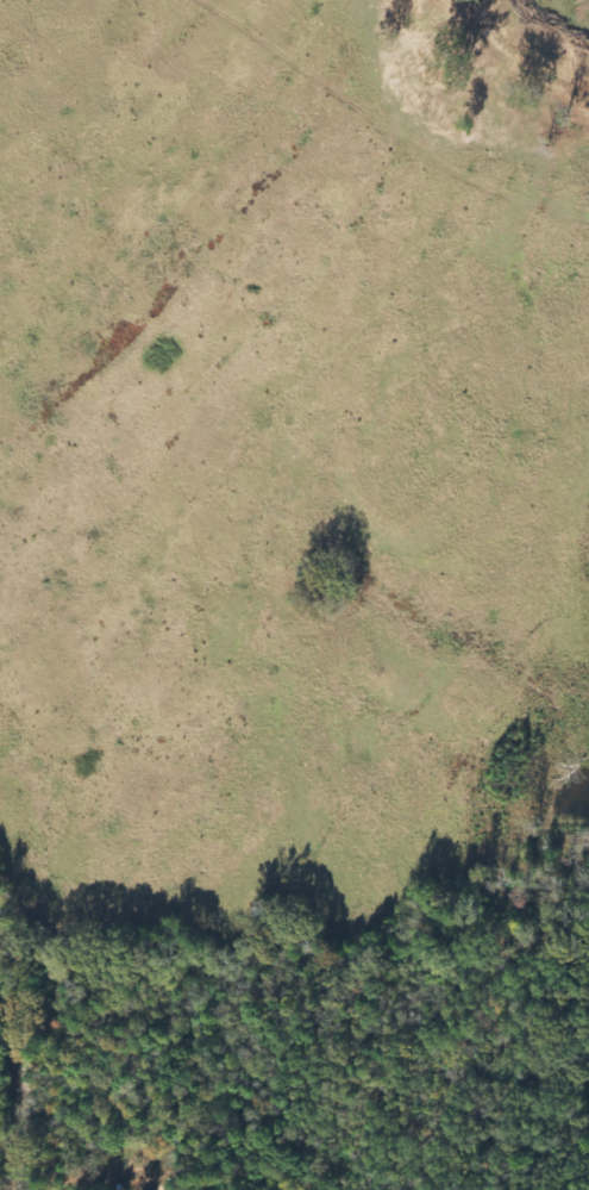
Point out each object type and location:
road: (27, 1030)

